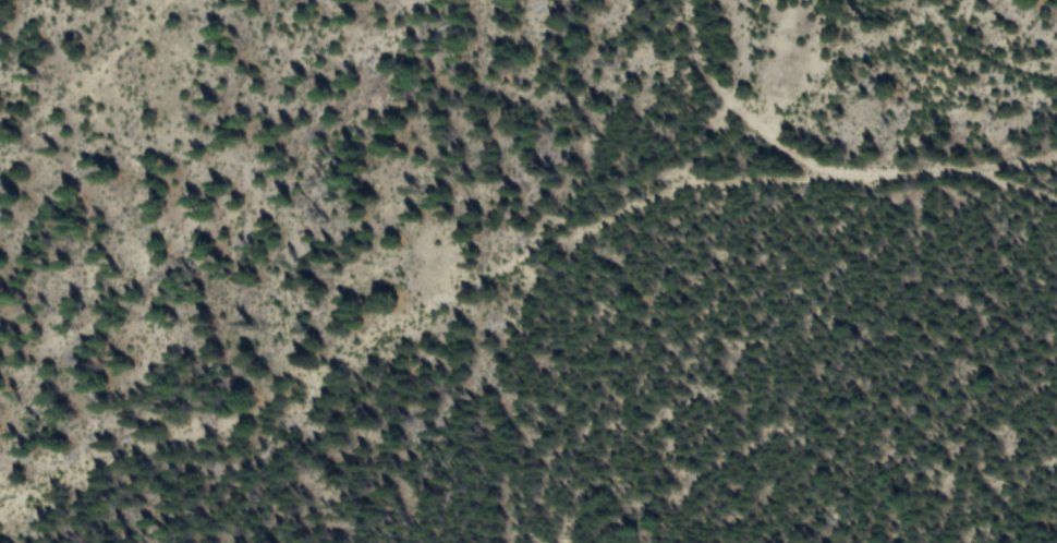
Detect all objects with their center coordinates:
road: (863, 146)

